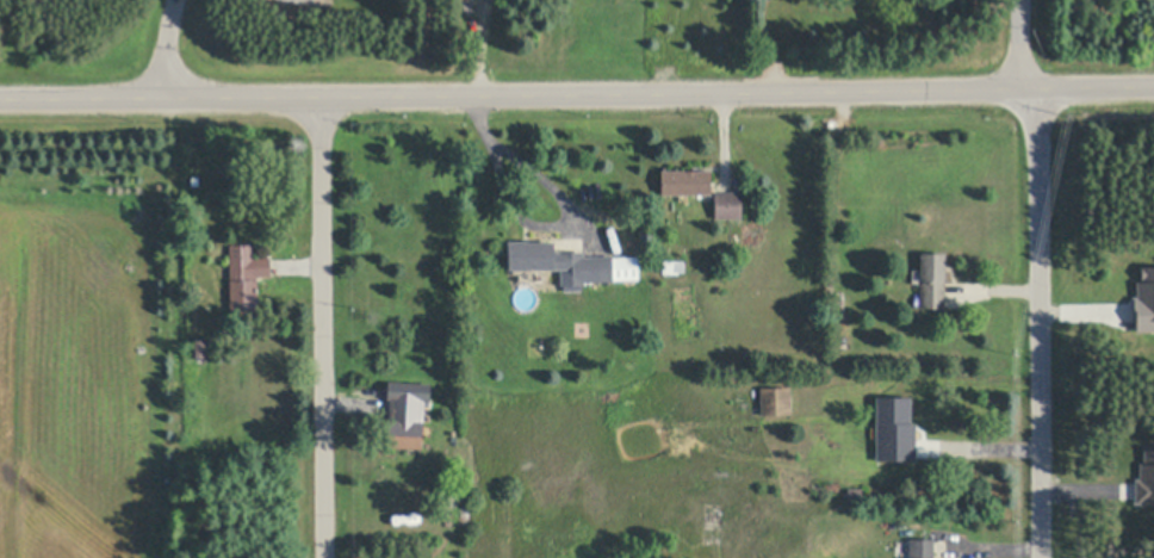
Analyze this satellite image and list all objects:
road: (1018, 45)
road: (169, 49)
road: (577, 95)
building: (687, 181)
building: (728, 203)
building: (573, 261)
building: (674, 267)
building: (246, 273)
building: (933, 278)
building: (831, 284)
building: (1144, 297)
road: (1037, 324)
road: (324, 328)
building: (197, 348)
building: (777, 398)
building: (407, 411)
building: (892, 429)
building: (913, 432)
building: (1146, 477)
building: (454, 494)
building: (855, 494)
building: (923, 547)

